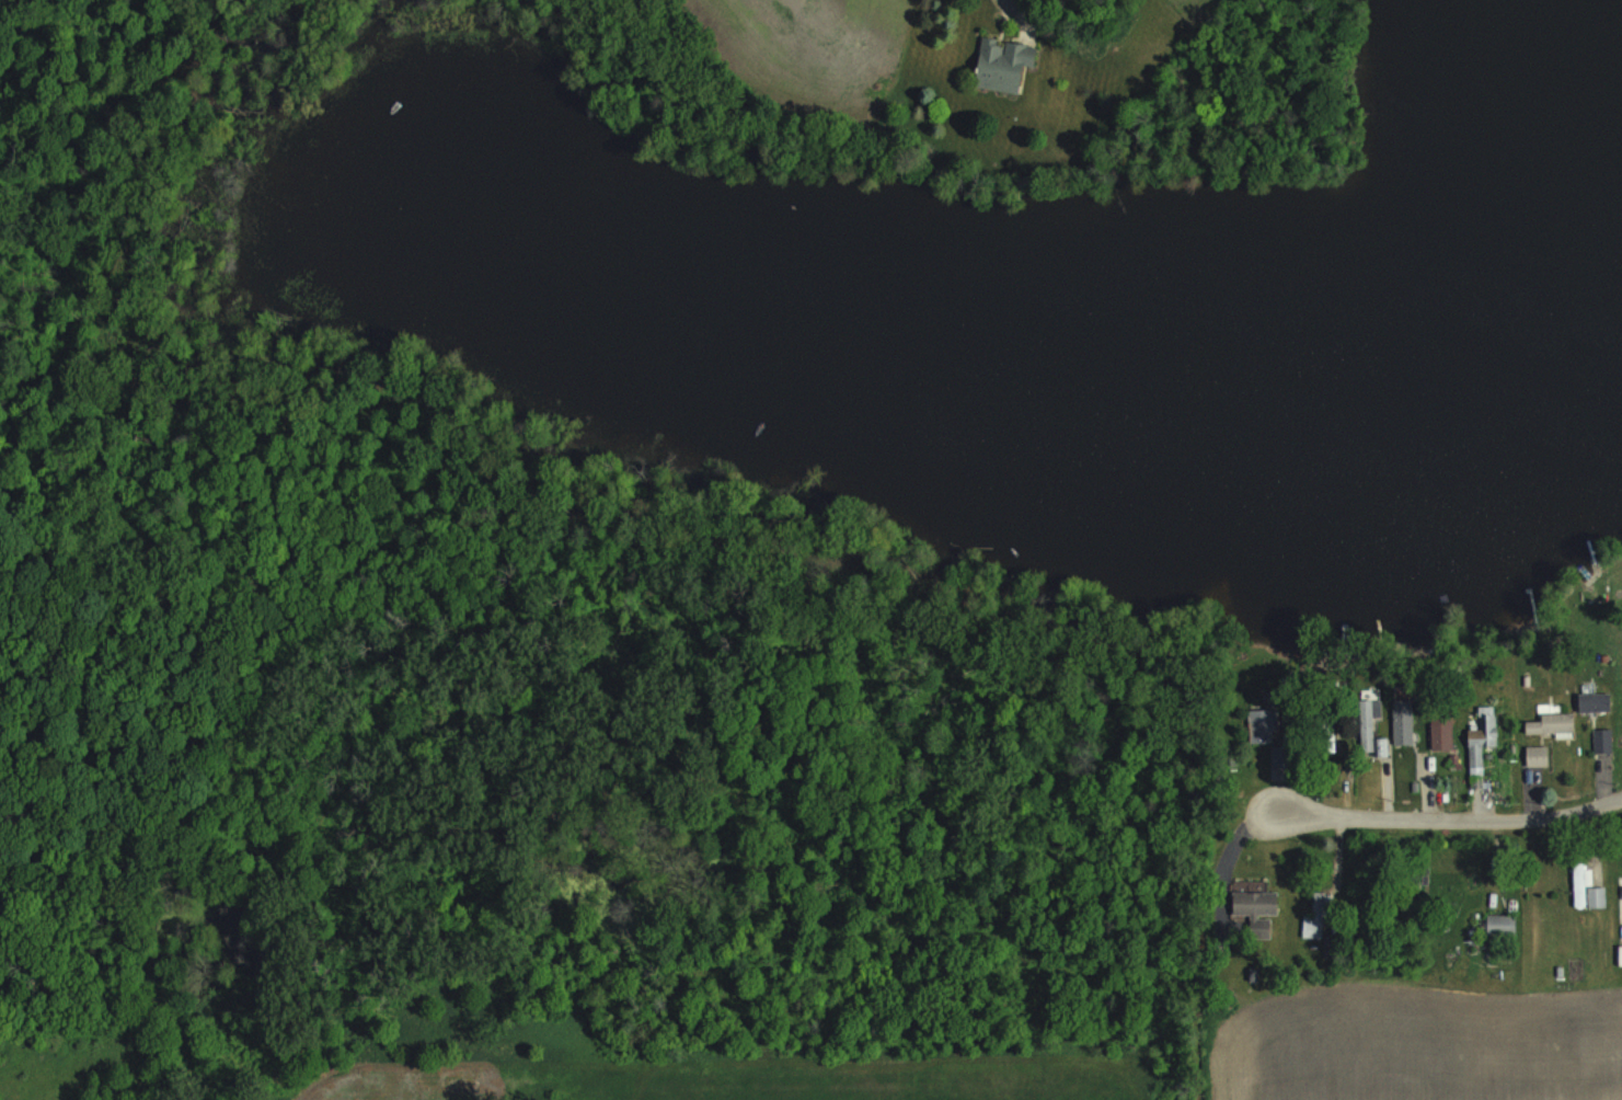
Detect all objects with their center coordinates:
building: (1003, 64)
building: (1595, 701)
building: (1368, 721)
building: (1402, 722)
building: (1551, 723)
building: (1261, 725)
building: (1441, 732)
building: (1601, 740)
building: (1480, 744)
building: (1535, 756)
building: (1280, 760)
road: (1447, 816)
building: (1586, 887)
building: (1255, 909)
building: (1316, 914)
building: (1500, 925)

